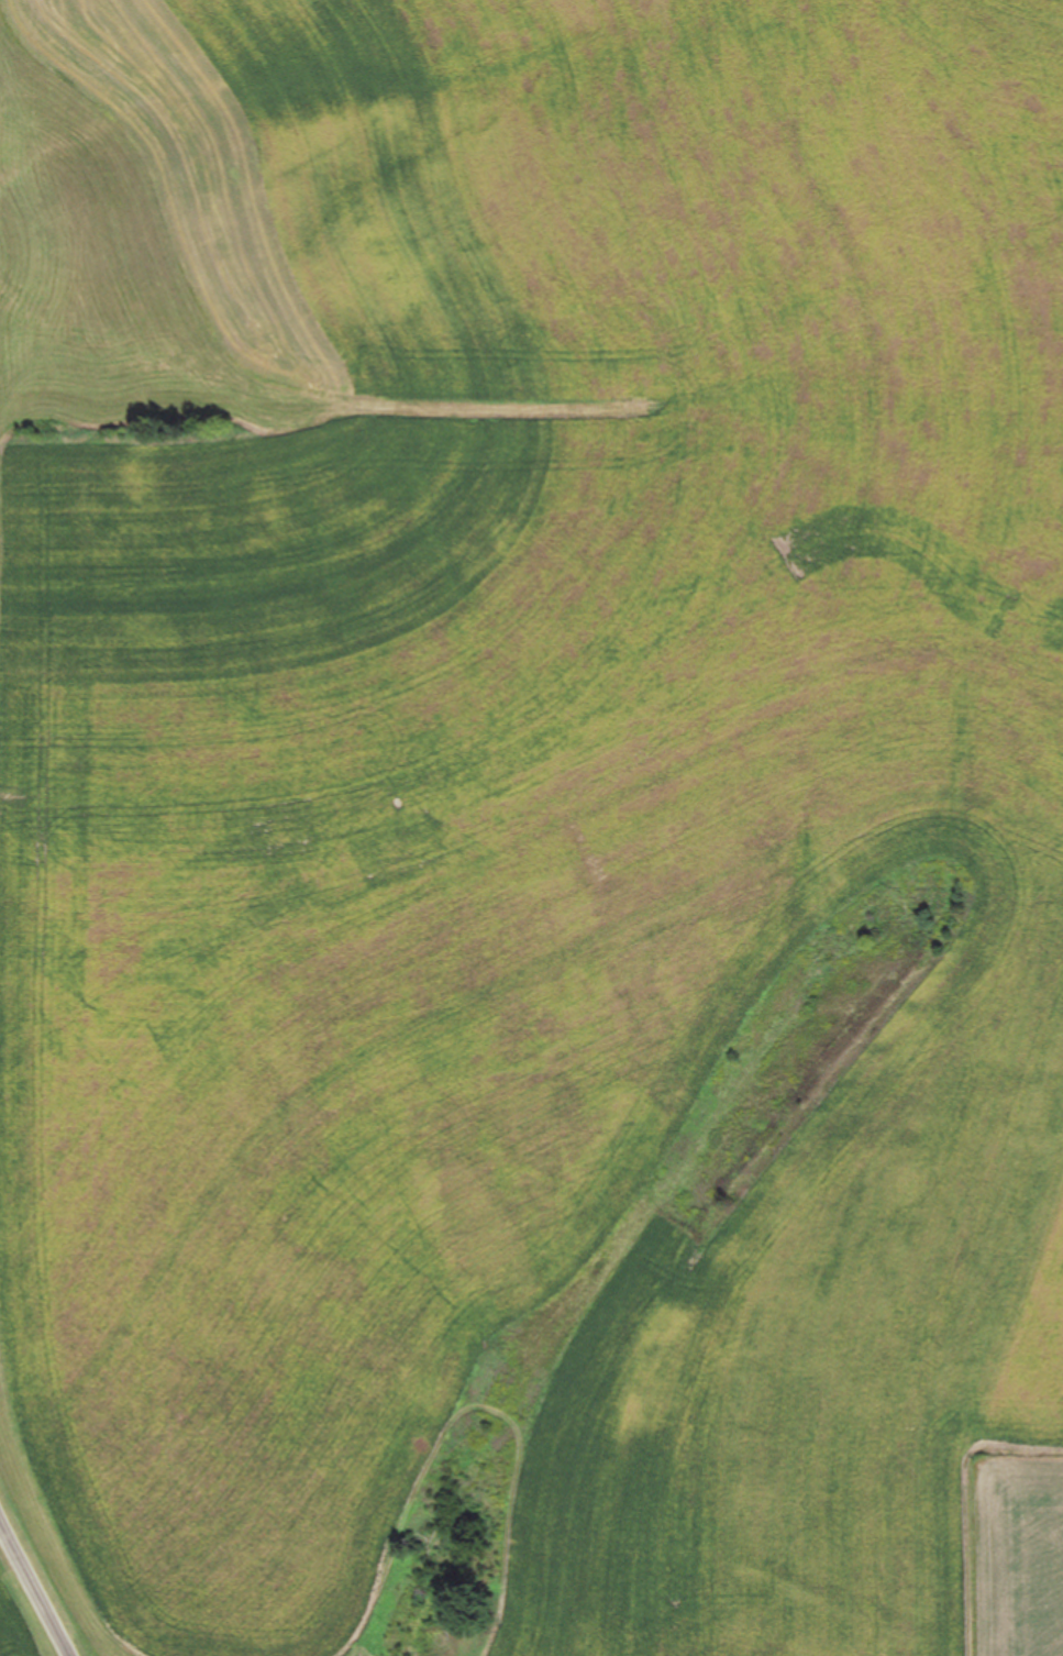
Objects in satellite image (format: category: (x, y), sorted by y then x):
road: (16, 1630)
road: (24, 1654)

